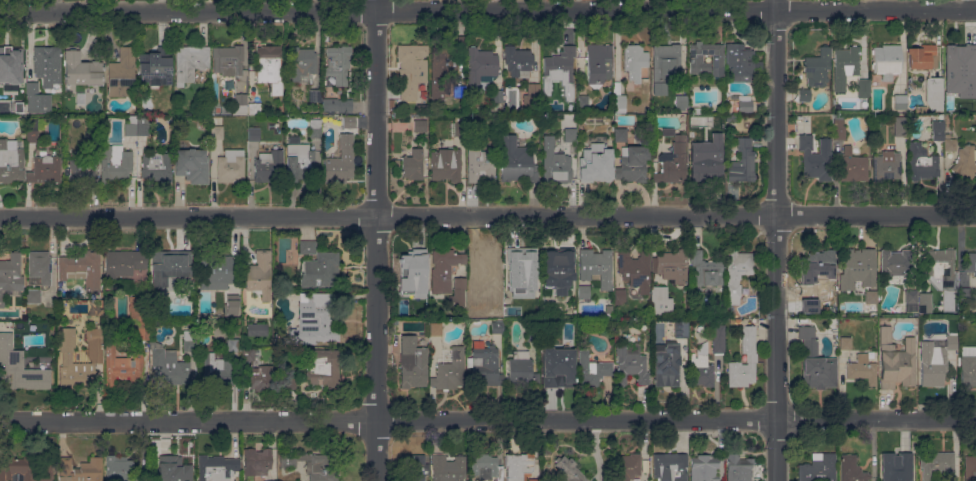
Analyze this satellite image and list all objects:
road: (487, 12)
building: (921, 57)
building: (634, 58)
building: (696, 58)
building: (228, 60)
building: (886, 60)
building: (518, 61)
building: (958, 61)
building: (190, 62)
building: (300, 62)
building: (666, 62)
building: (11, 63)
building: (738, 63)
building: (48, 64)
building: (339, 64)
building: (599, 64)
building: (560, 65)
building: (481, 66)
building: (844, 66)
building: (156, 67)
building: (270, 67)
building: (817, 67)
building: (81, 68)
building: (412, 70)
building: (441, 71)
building: (122, 73)
building: (485, 80)
building: (863, 88)
building: (459, 91)
building: (544, 91)
building: (239, 92)
building: (315, 95)
building: (496, 95)
building: (804, 95)
building: (932, 95)
building: (532, 97)
building: (971, 97)
building: (37, 98)
building: (620, 98)
building: (681, 101)
building: (740, 102)
building: (900, 102)
building: (240, 104)
building: (583, 104)
building: (337, 105)
building: (19, 108)
building: (255, 109)
building: (695, 110)
building: (240, 118)
building: (730, 118)
building: (331, 119)
building: (347, 120)
building: (95, 121)
building: (215, 121)
building: (419, 125)
building: (459, 125)
building: (131, 126)
building: (899, 126)
building: (838, 128)
building: (32, 129)
building: (143, 129)
building: (315, 129)
building: (937, 130)
building: (217, 132)
building: (254, 134)
building: (570, 135)
building: (620, 135)
building: (698, 135)
building: (294, 139)
building: (93, 140)
building: (555, 143)
building: (949, 143)
building: (113, 159)
building: (672, 159)
building: (814, 160)
building: (299, 161)
building: (339, 161)
building: (516, 161)
building: (711, 161)
building: (11, 162)
building: (742, 162)
building: (921, 162)
building: (596, 163)
building: (632, 163)
building: (413, 164)
building: (446, 164)
building: (479, 164)
building: (965, 164)
building: (192, 165)
building: (157, 166)
building: (231, 166)
building: (269, 166)
building: (887, 166)
building: (556, 167)
building: (851, 167)
building: (45, 169)
building: (79, 172)
road: (488, 218)
road: (374, 240)
road: (776, 240)
building: (307, 246)
building: (124, 262)
building: (895, 263)
building: (971, 263)
building: (40, 265)
building: (169, 266)
building: (671, 266)
building: (216, 267)
building: (596, 267)
building: (940, 267)
building: (81, 268)
building: (485, 268)
building: (857, 268)
building: (444, 269)
building: (557, 269)
building: (635, 269)
building: (706, 269)
building: (816, 269)
building: (320, 270)
building: (413, 270)
building: (522, 272)
building: (736, 272)
building: (10, 275)
building: (259, 275)
building: (121, 285)
building: (583, 292)
building: (458, 293)
building: (964, 294)
building: (33, 296)
building: (619, 296)
building: (661, 300)
building: (911, 301)
building: (872, 302)
building: (925, 302)
building: (232, 304)
building: (177, 305)
building: (140, 318)
building: (737, 321)
building: (311, 322)
building: (497, 327)
building: (433, 328)
building: (257, 329)
building: (681, 329)
building: (531, 331)
building: (3, 333)
building: (719, 338)
building: (936, 339)
building: (95, 340)
building: (189, 340)
building: (844, 343)
building: (233, 344)
building: (247, 356)
building: (751, 357)
building: (934, 360)
building: (896, 361)
building: (815, 362)
building: (75, 363)
building: (413, 363)
building: (631, 363)
building: (485, 364)
building: (667, 365)
building: (968, 366)
building: (168, 367)
building: (557, 367)
building: (701, 367)
building: (123, 368)
building: (322, 368)
building: (216, 369)
building: (861, 369)
building: (520, 370)
building: (592, 370)
building: (15, 371)
building: (450, 371)
building: (261, 378)
building: (289, 383)
road: (488, 422)
building: (256, 462)
building: (312, 465)
building: (937, 465)
building: (416, 466)
building: (519, 466)
building: (628, 466)
building: (216, 467)
building: (484, 467)
building: (670, 467)
building: (448, 468)
building: (704, 468)
building: (738, 468)
building: (818, 468)
building: (905, 468)
building: (970, 468)
building: (24, 469)
building: (80, 469)
building: (121, 469)
building: (174, 469)
building: (852, 469)
building: (569, 470)
building: (534, 479)

